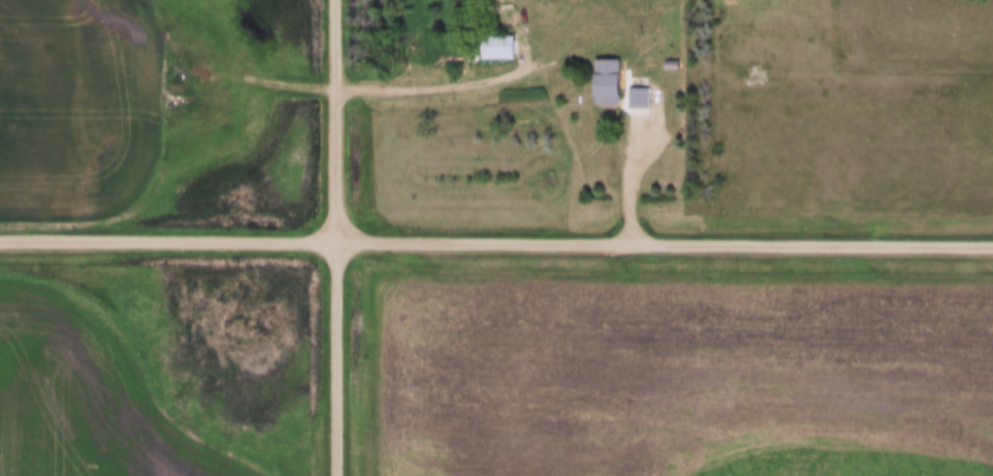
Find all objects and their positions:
building: (497, 49)
road: (265, 79)
building: (604, 82)
road: (445, 86)
building: (637, 98)
road: (632, 177)
road: (333, 237)
road: (167, 238)
road: (663, 241)

